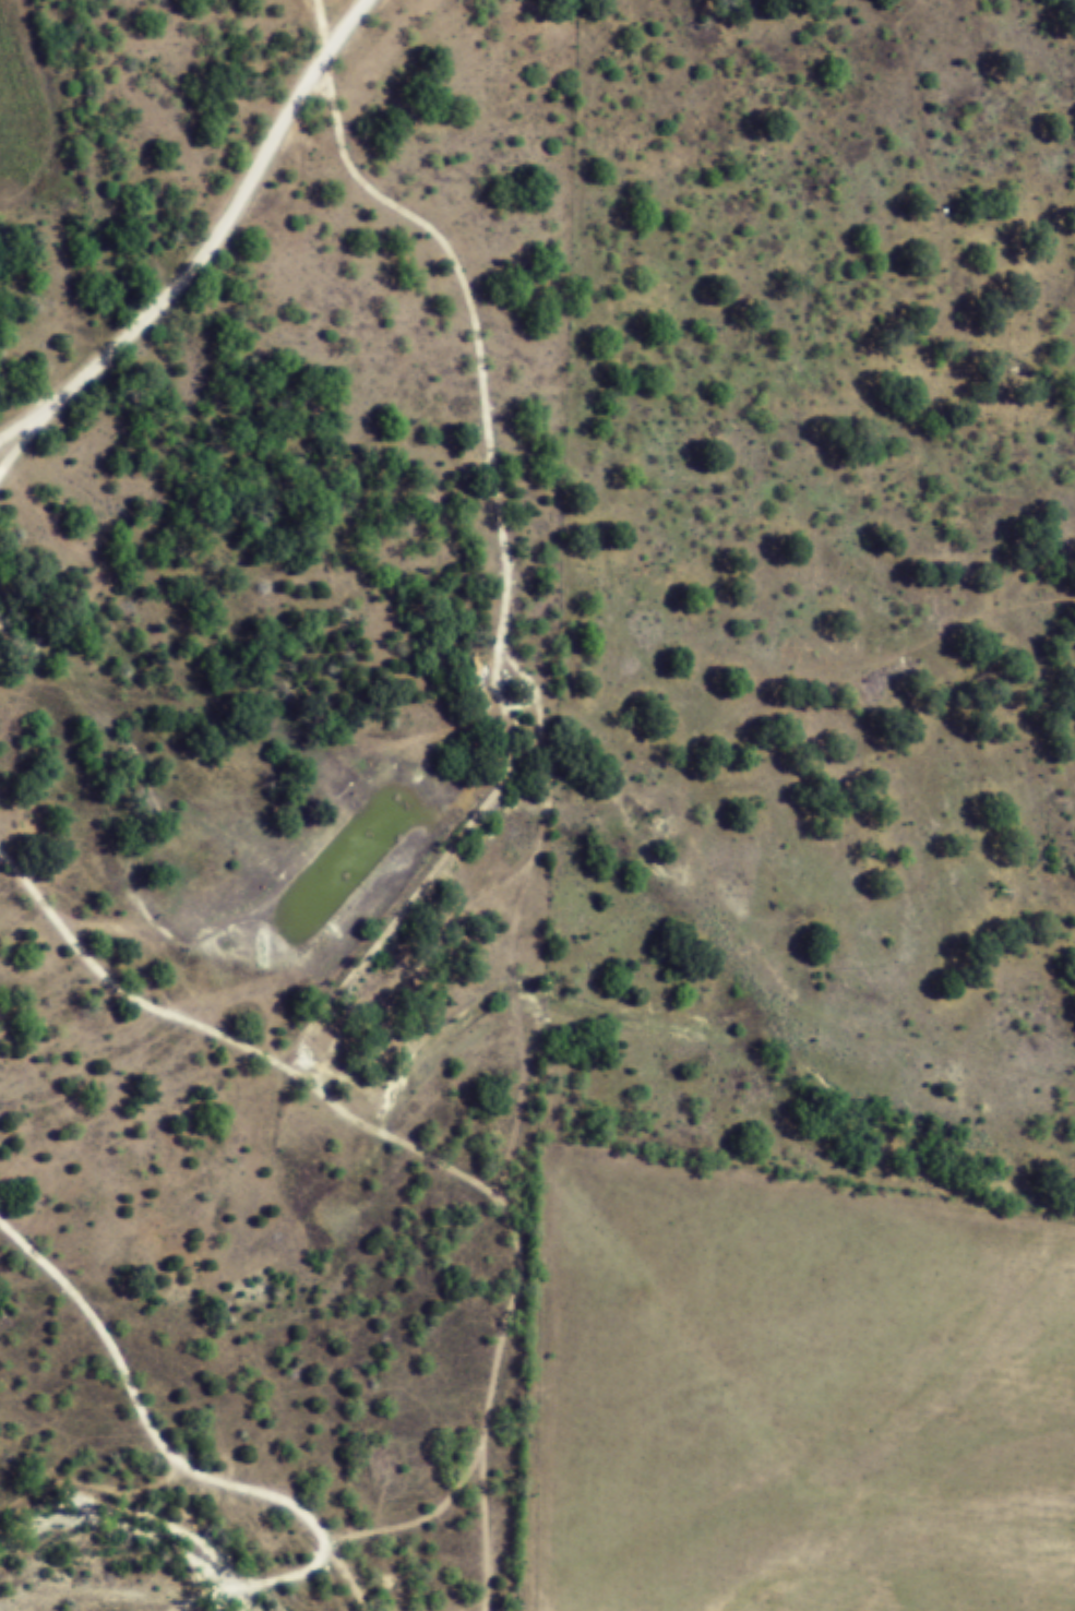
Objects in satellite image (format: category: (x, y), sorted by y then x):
road: (212, 243)
road: (397, 1142)
road: (203, 1464)

